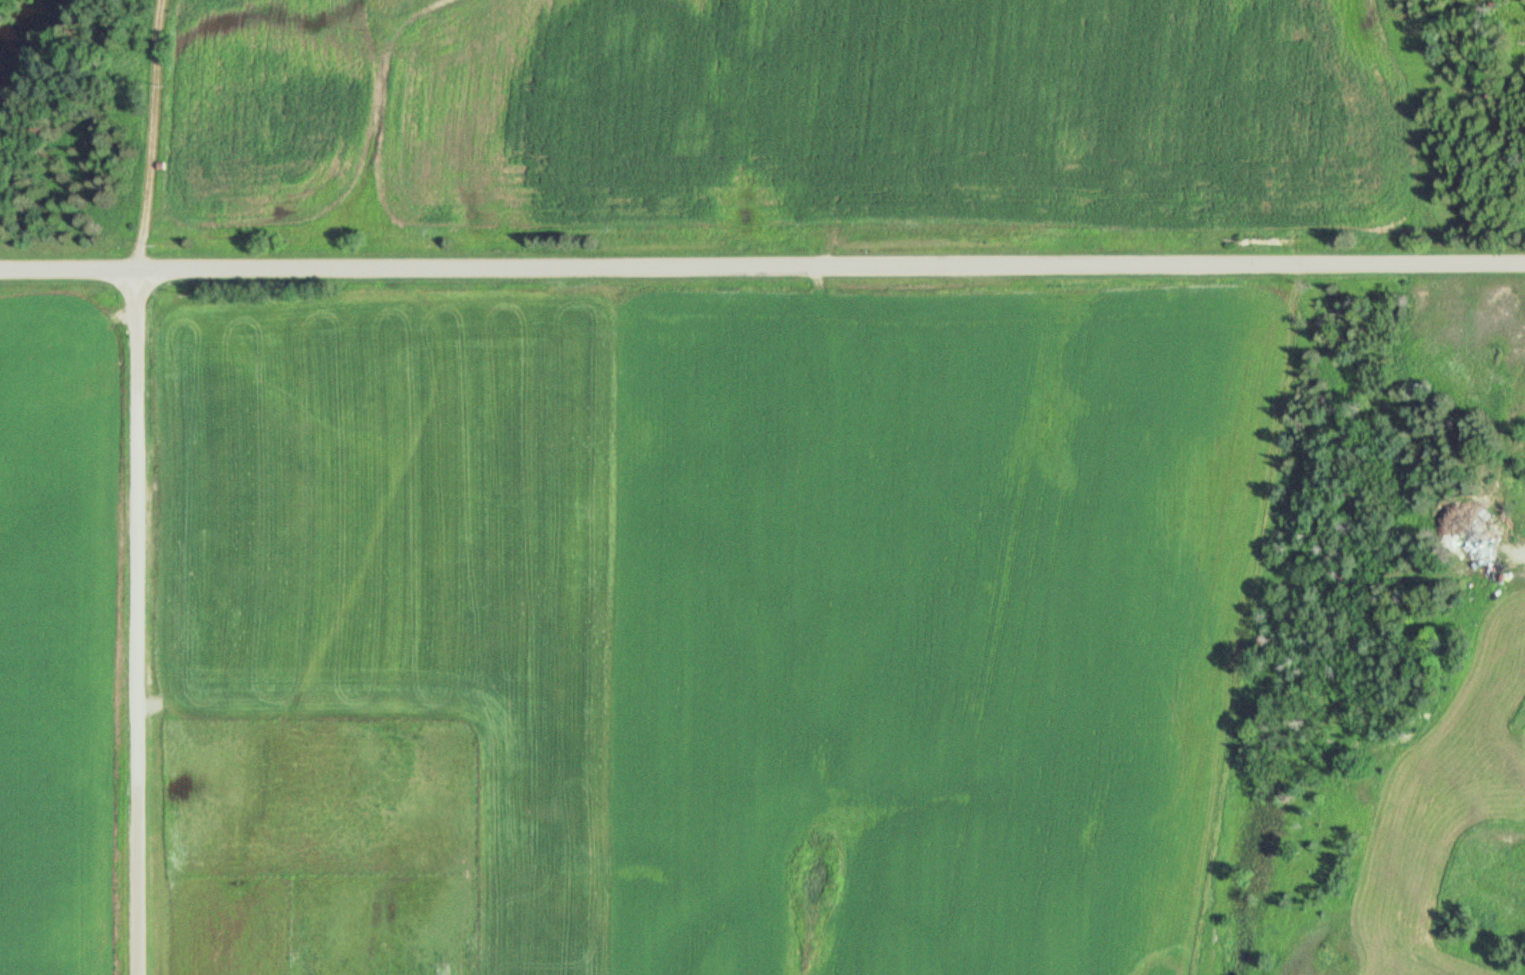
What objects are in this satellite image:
river: (34, 34)
road: (148, 136)
road: (762, 268)
road: (134, 623)
building: (228, 969)

